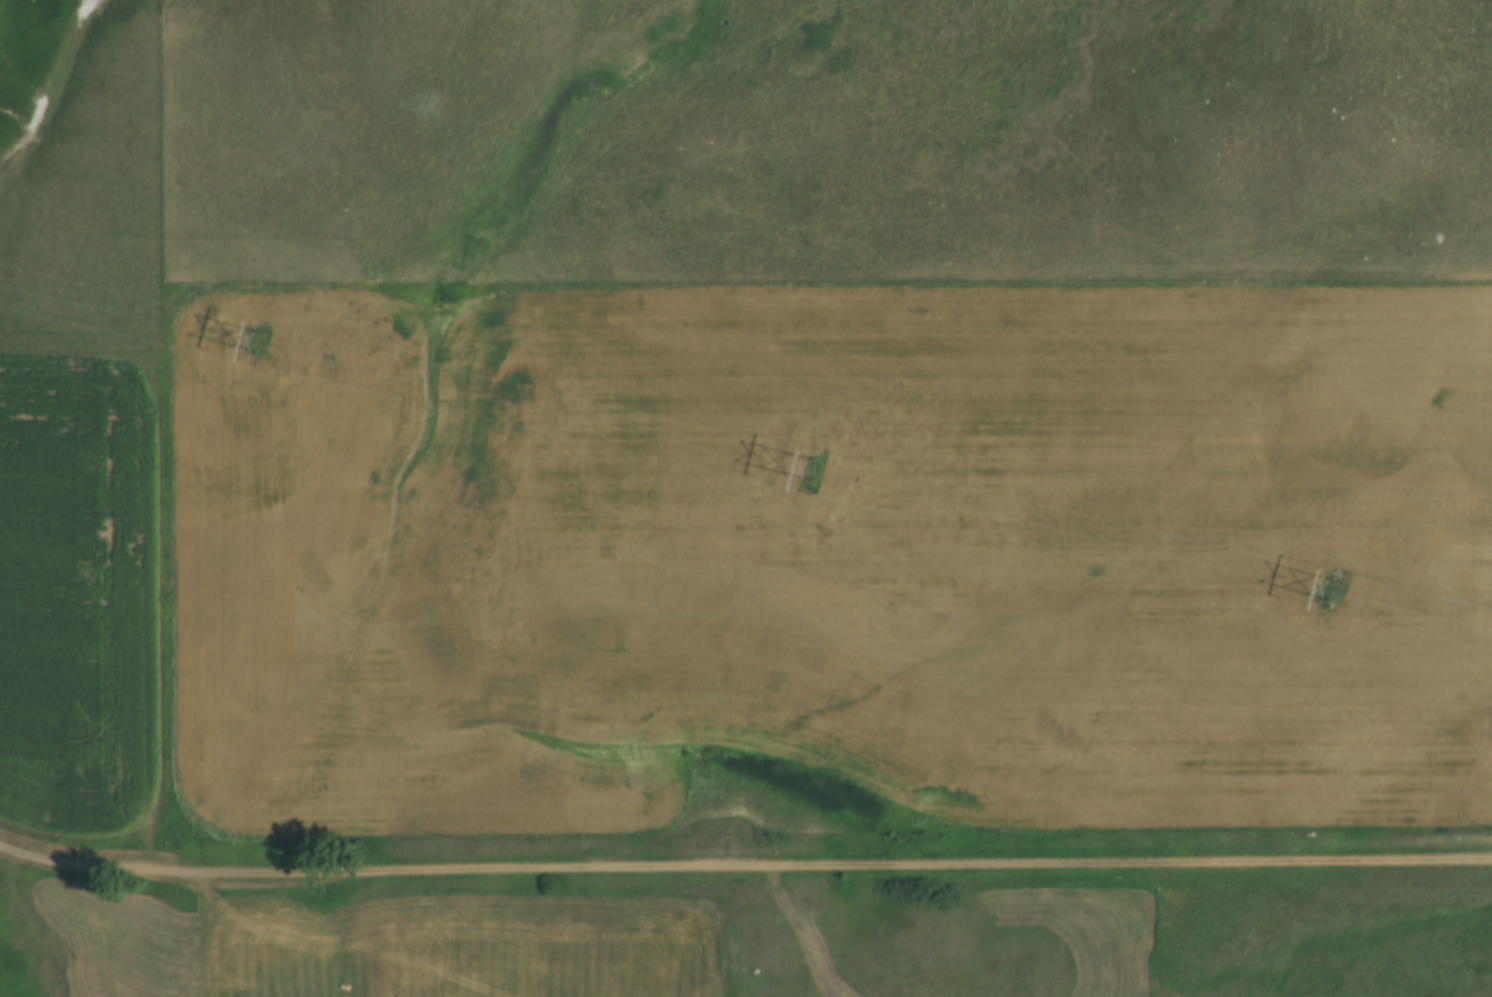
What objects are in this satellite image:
road: (744, 866)

